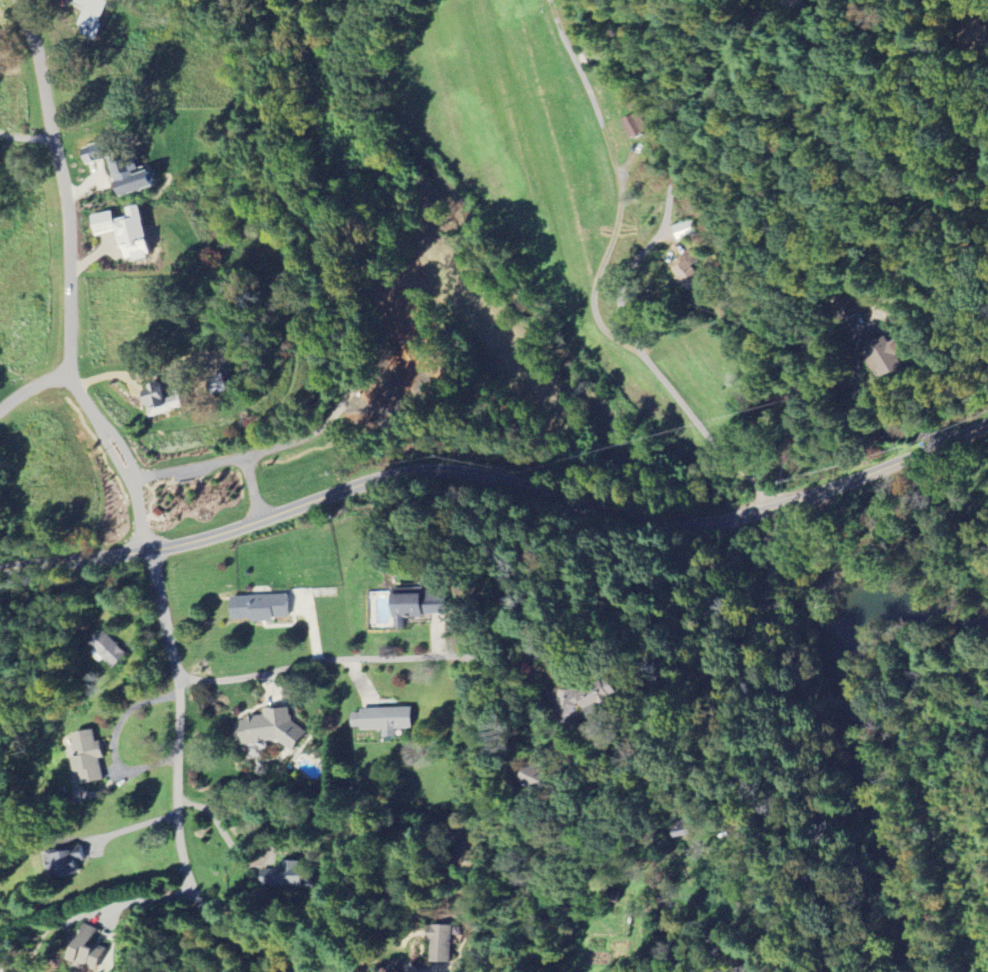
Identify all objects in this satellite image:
building: (97, 16)
road: (585, 88)
building: (633, 125)
road: (26, 136)
building: (124, 169)
road: (671, 180)
road: (66, 222)
building: (131, 231)
building: (685, 272)
building: (849, 308)
road: (636, 354)
building: (884, 357)
road: (34, 393)
building: (168, 400)
road: (116, 451)
road: (498, 479)
road: (134, 504)
road: (922, 540)
building: (264, 606)
building: (413, 607)
building: (440, 634)
building: (110, 650)
road: (362, 655)
road: (516, 659)
road: (1, 679)
river: (835, 692)
building: (594, 694)
building: (386, 719)
building: (274, 728)
road: (110, 741)
building: (91, 755)
road: (176, 798)
road: (124, 828)
road: (268, 842)
building: (67, 861)
building: (291, 875)
road: (143, 899)
building: (90, 951)

